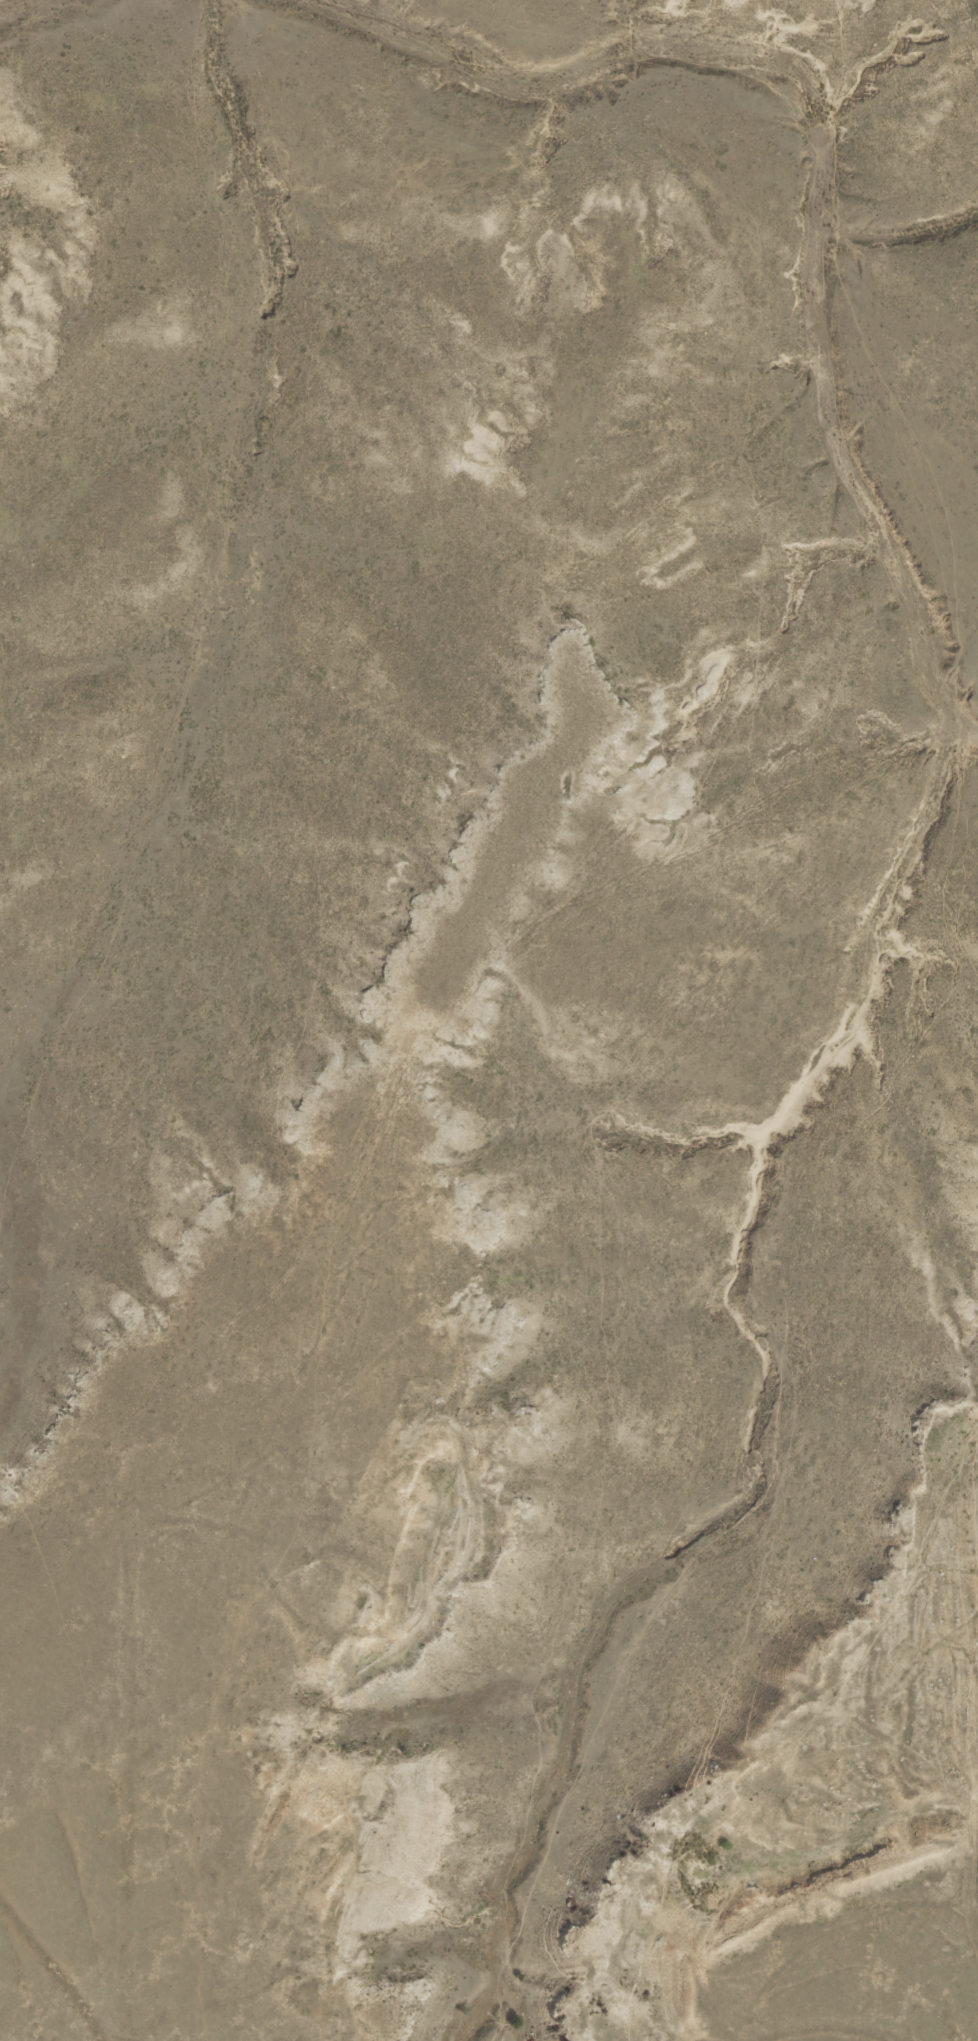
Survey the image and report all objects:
road: (62, 1726)
road: (668, 2019)
road: (843, 2021)
road: (11, 2026)

